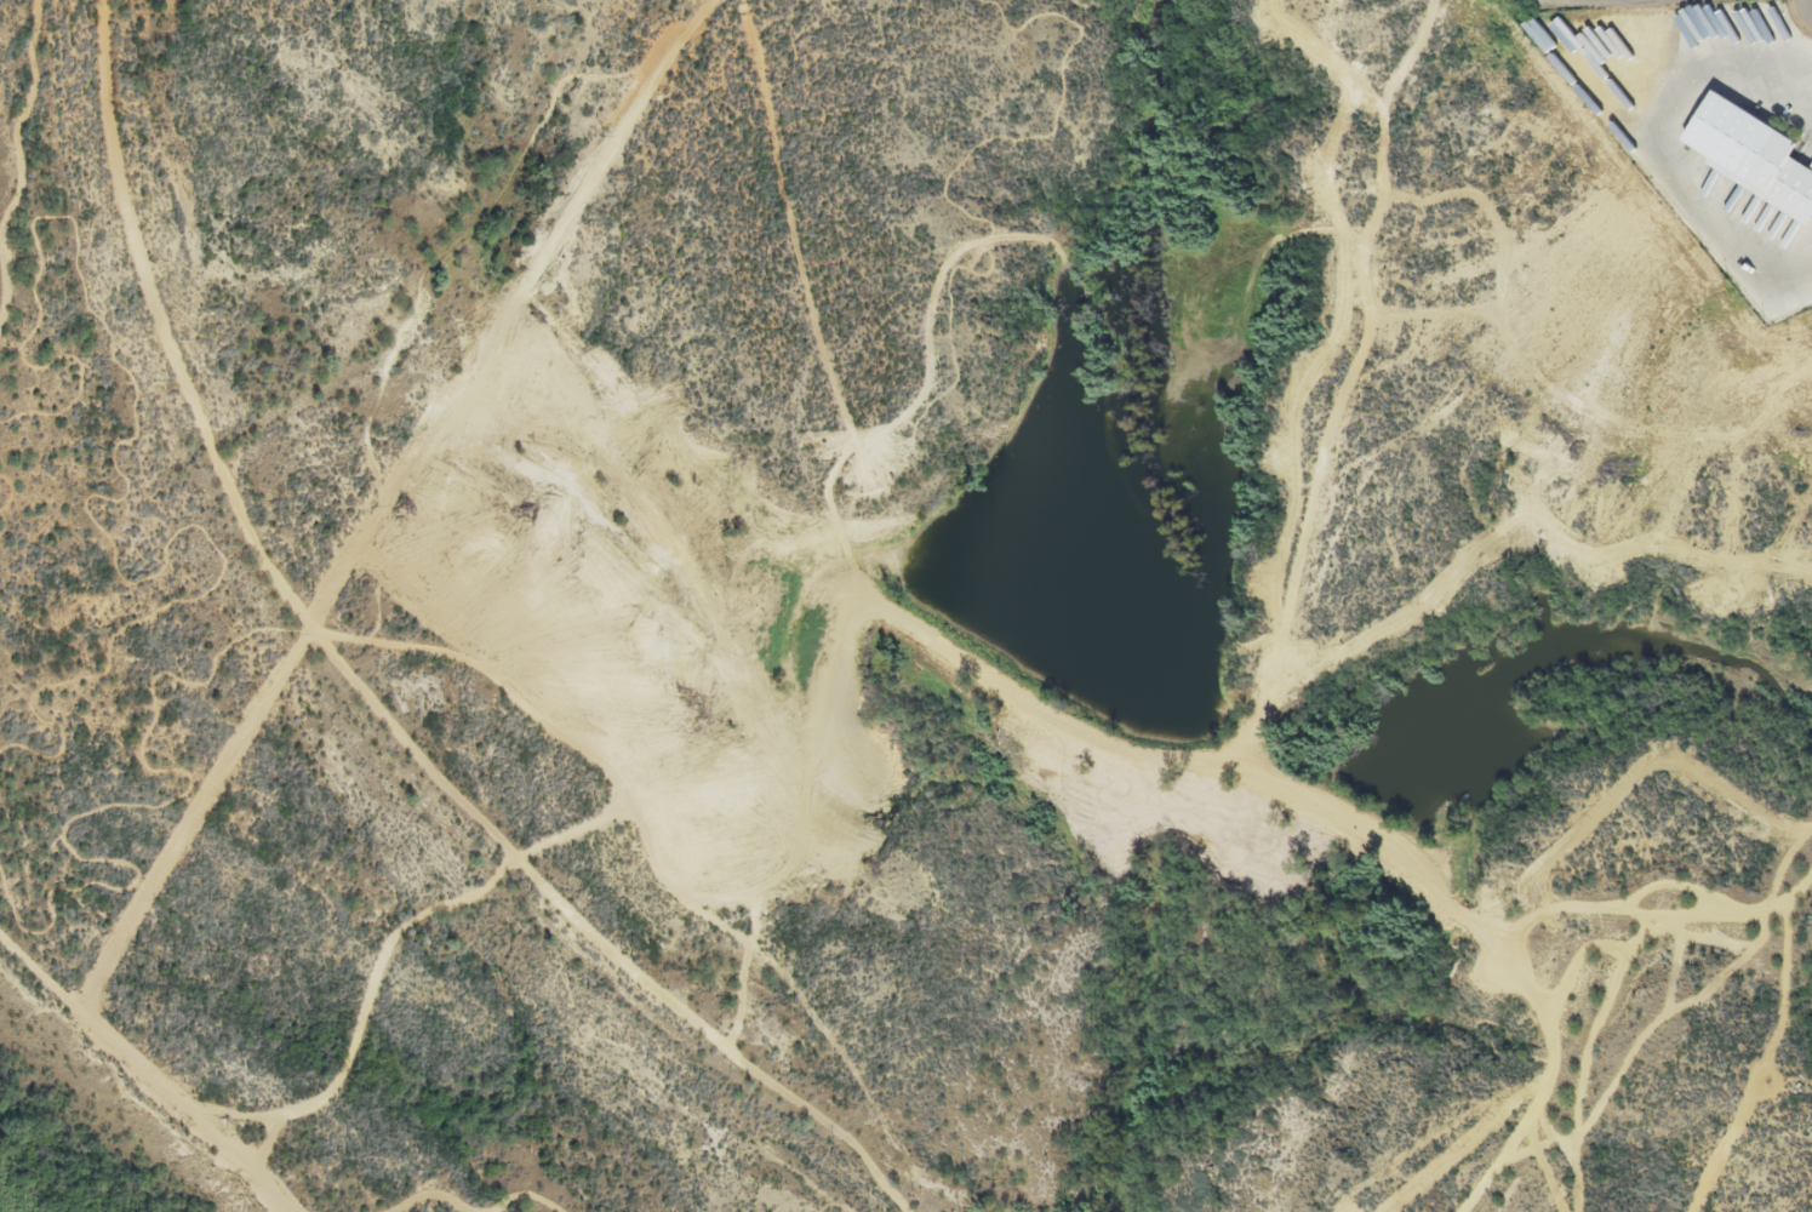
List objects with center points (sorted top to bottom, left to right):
building: (1753, 153)

